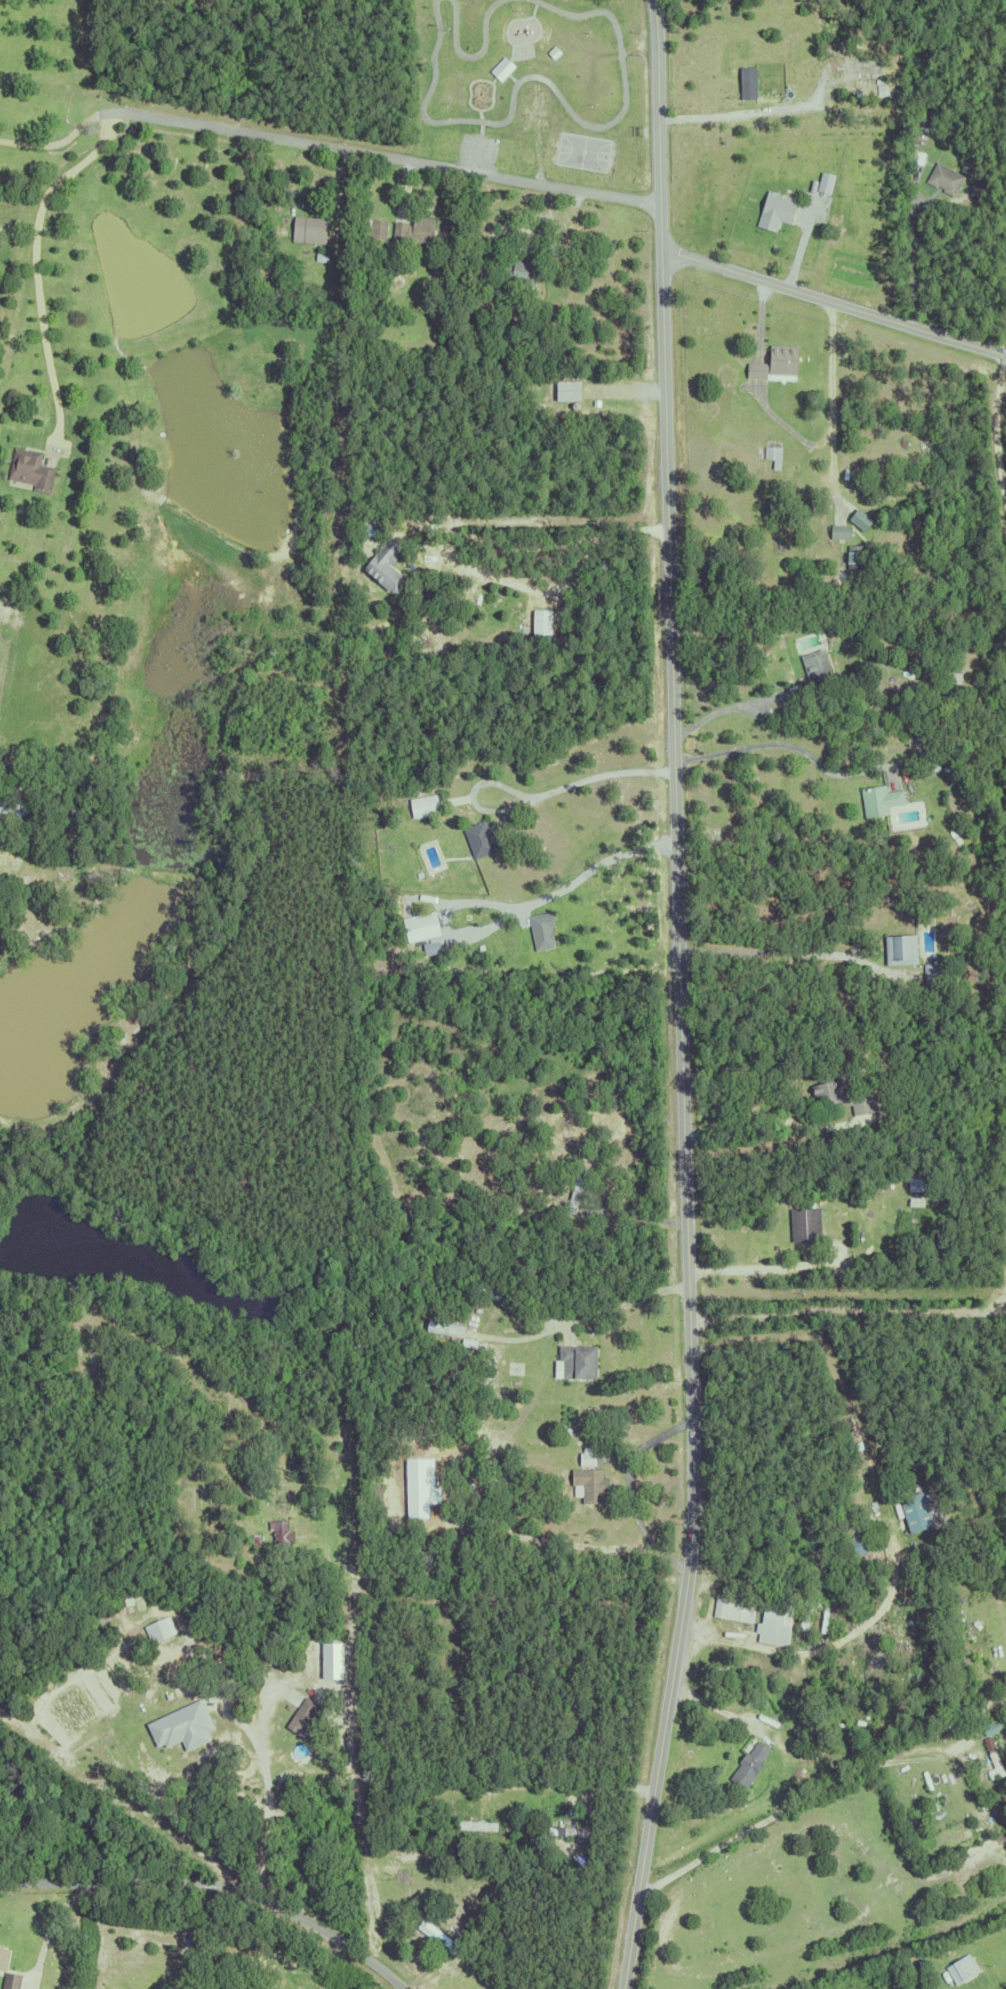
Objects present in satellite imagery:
road: (534, 10)
road: (533, 18)
road: (486, 26)
road: (455, 36)
building: (556, 52)
road: (504, 66)
building: (505, 69)
building: (863, 73)
building: (752, 82)
park: (530, 84)
road: (418, 95)
road: (468, 97)
road: (493, 101)
road: (753, 110)
road: (618, 114)
road: (61, 137)
park: (584, 151)
building: (916, 155)
road: (388, 159)
building: (943, 176)
building: (829, 182)
building: (976, 193)
building: (780, 210)
building: (307, 227)
building: (413, 228)
road: (912, 251)
building: (320, 254)
road: (37, 261)
building: (513, 271)
road: (834, 304)
building: (553, 332)
building: (781, 359)
building: (755, 368)
building: (567, 388)
road: (831, 401)
road: (996, 430)
building: (772, 454)
building: (29, 468)
building: (864, 520)
building: (367, 526)
building: (839, 530)
road: (457, 534)
building: (387, 546)
building: (856, 556)
building: (545, 622)
building: (814, 669)
building: (949, 677)
road: (728, 708)
road: (786, 745)
building: (32, 789)
road: (536, 797)
building: (878, 799)
building: (9, 804)
building: (422, 804)
building: (478, 837)
road: (28, 859)
road: (598, 864)
building: (426, 927)
building: (546, 931)
building: (435, 948)
building: (899, 949)
road: (772, 951)
building: (930, 974)
road: (681, 996)
building: (826, 1091)
road: (766, 1115)
building: (913, 1177)
building: (574, 1189)
building: (912, 1195)
road: (638, 1215)
building: (803, 1224)
road: (749, 1270)
road: (847, 1305)
road: (607, 1309)
building: (442, 1329)
building: (465, 1341)
road: (833, 1349)
building: (321, 1358)
building: (576, 1361)
building: (511, 1475)
building: (588, 1476)
road: (630, 1487)
building: (887, 1506)
building: (920, 1512)
building: (229, 1532)
building: (282, 1536)
building: (253, 1541)
building: (853, 1546)
building: (246, 1571)
building: (732, 1606)
building: (774, 1620)
building: (822, 1620)
building: (902, 1621)
building: (101, 1622)
building: (899, 1628)
building: (158, 1629)
building: (336, 1660)
building: (324, 1667)
building: (834, 1708)
building: (304, 1720)
building: (181, 1727)
road: (250, 1736)
building: (995, 1757)
building: (747, 1766)
road: (569, 1784)
road: (792, 1805)
road: (267, 1806)
building: (474, 1823)
building: (566, 1828)
road: (215, 1884)
road: (48, 1932)
road: (96, 1933)
building: (436, 1933)
road: (193, 1935)
building: (0, 1942)
building: (2, 1955)
building: (958, 1964)
building: (9, 1978)

